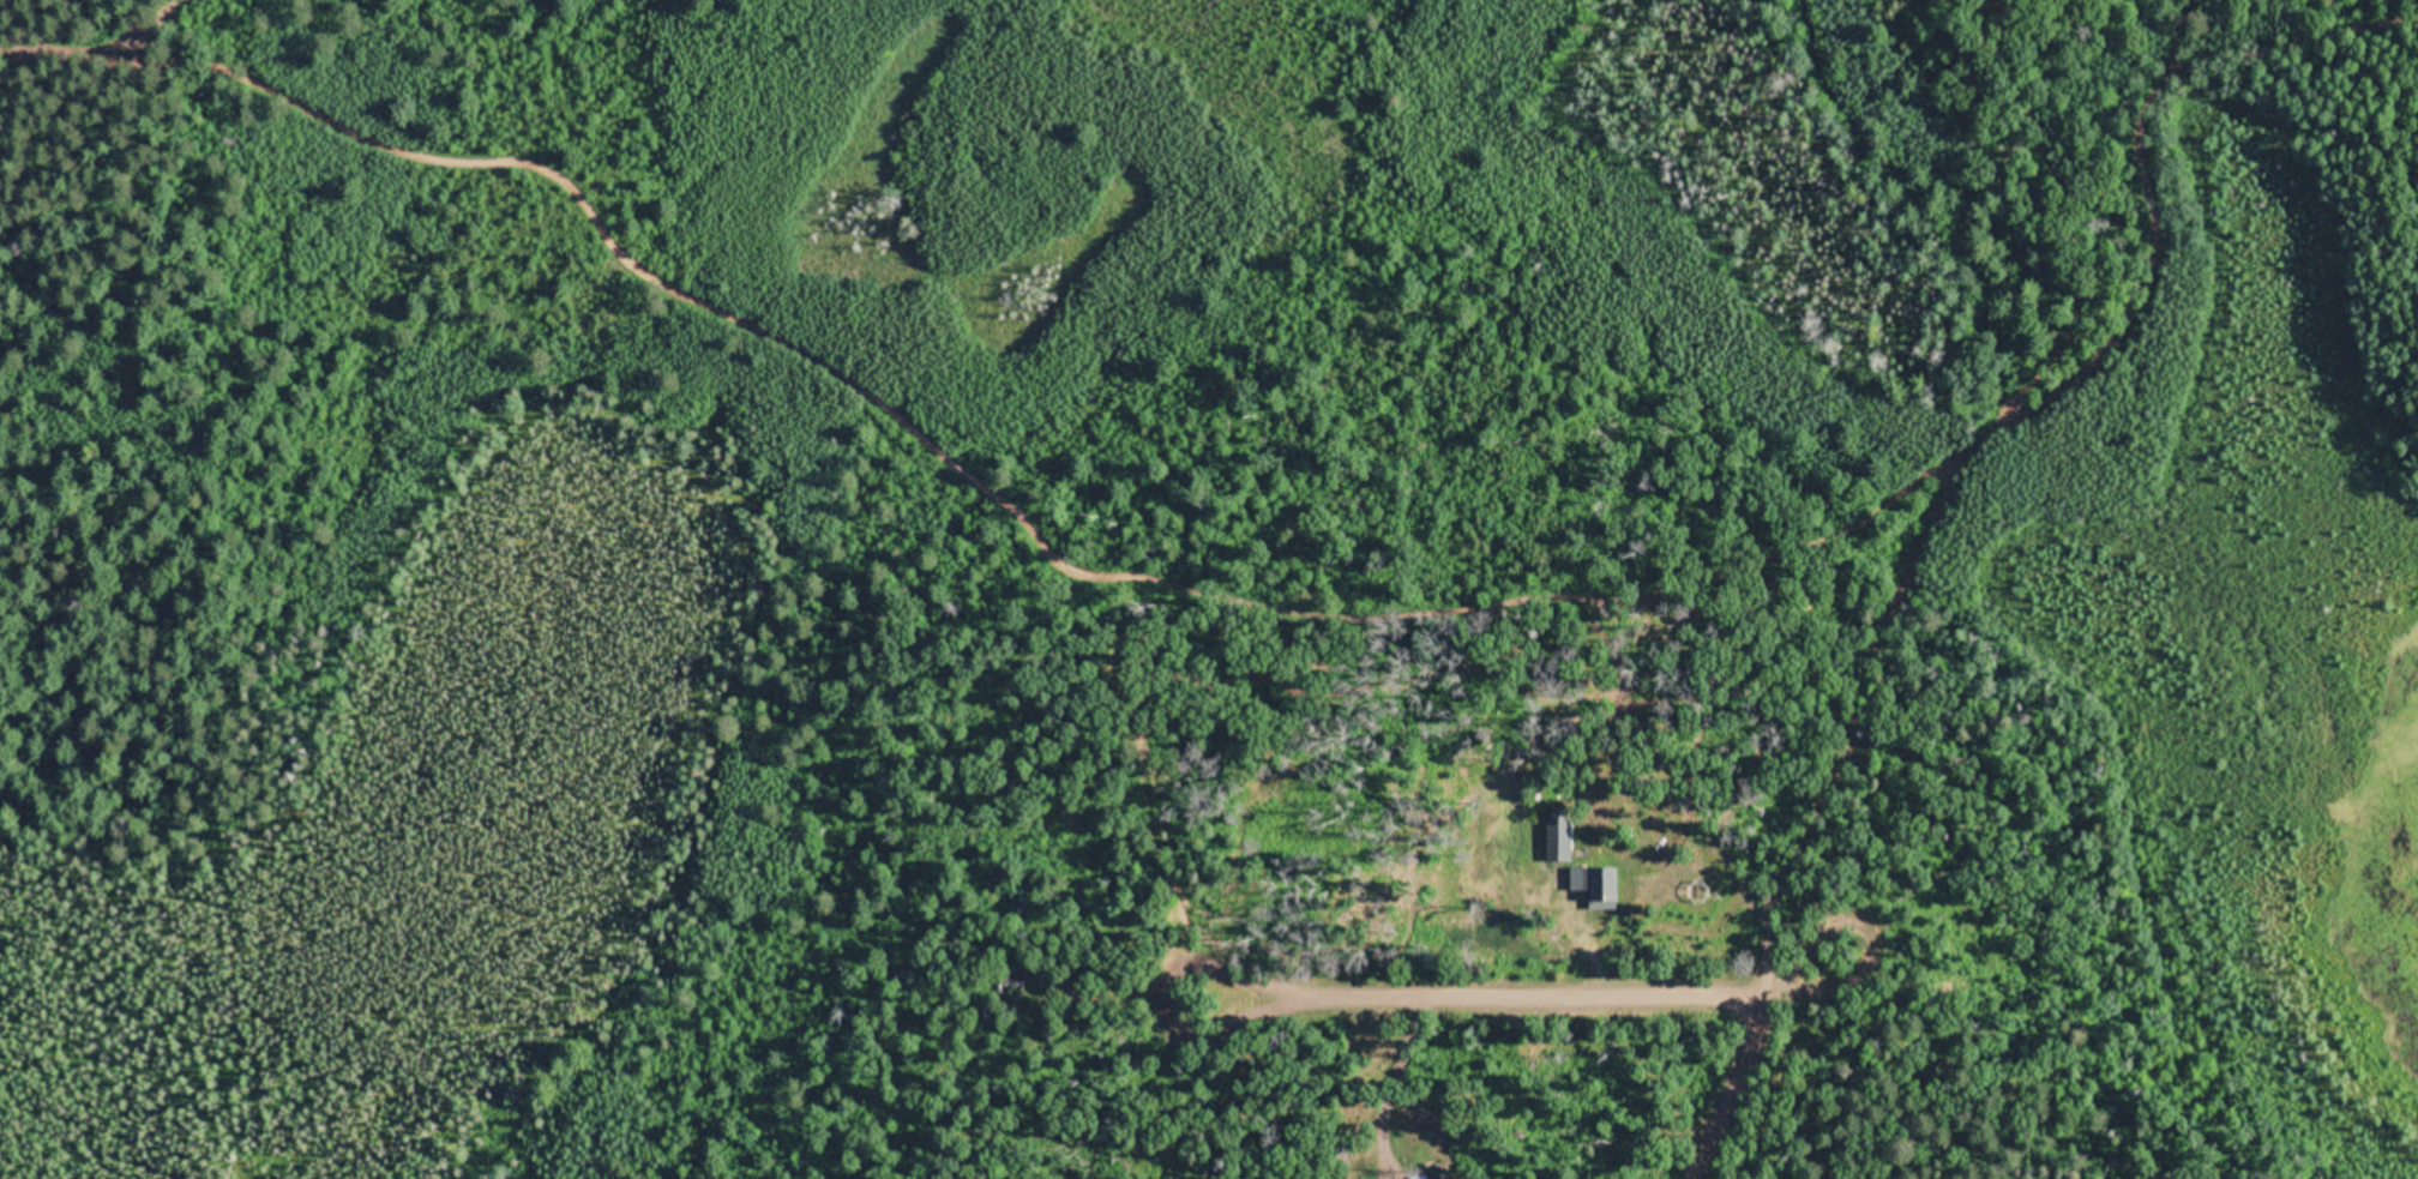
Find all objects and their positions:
road: (1894, 193)
road: (901, 440)
road: (1949, 467)
building: (1564, 841)
building: (1602, 882)
road: (1571, 997)
road: (1728, 1087)

